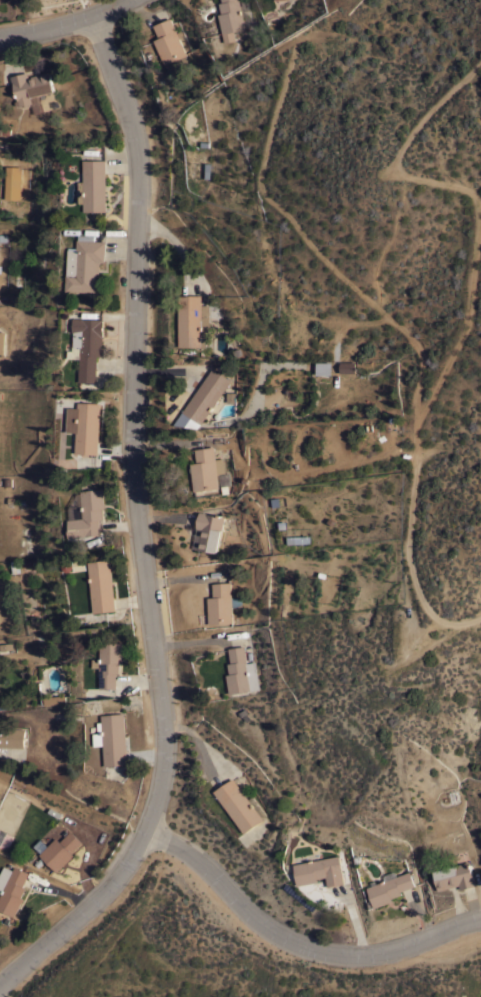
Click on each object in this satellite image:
building: (273, 0)
road: (112, 8)
building: (233, 19)
road: (44, 27)
building: (170, 45)
road: (15, 53)
building: (31, 86)
road: (109, 154)
building: (13, 182)
building: (92, 185)
road: (176, 247)
road: (121, 252)
building: (84, 264)
building: (193, 321)
road: (462, 330)
building: (1, 341)
building: (88, 345)
road: (117, 365)
building: (346, 367)
building: (323, 368)
road: (168, 371)
building: (206, 395)
building: (84, 426)
building: (331, 434)
road: (167, 443)
road: (118, 450)
building: (209, 470)
building: (88, 514)
road: (165, 517)
road: (122, 525)
road: (140, 528)
building: (209, 530)
building: (298, 539)
road: (182, 578)
building: (100, 585)
road: (133, 599)
building: (221, 603)
road: (197, 641)
building: (108, 663)
building: (240, 671)
road: (140, 681)
building: (11, 736)
building: (112, 738)
road: (198, 743)
building: (239, 805)
building: (60, 850)
building: (319, 870)
road: (81, 872)
building: (454, 876)
building: (12, 888)
building: (388, 888)
road: (298, 947)

